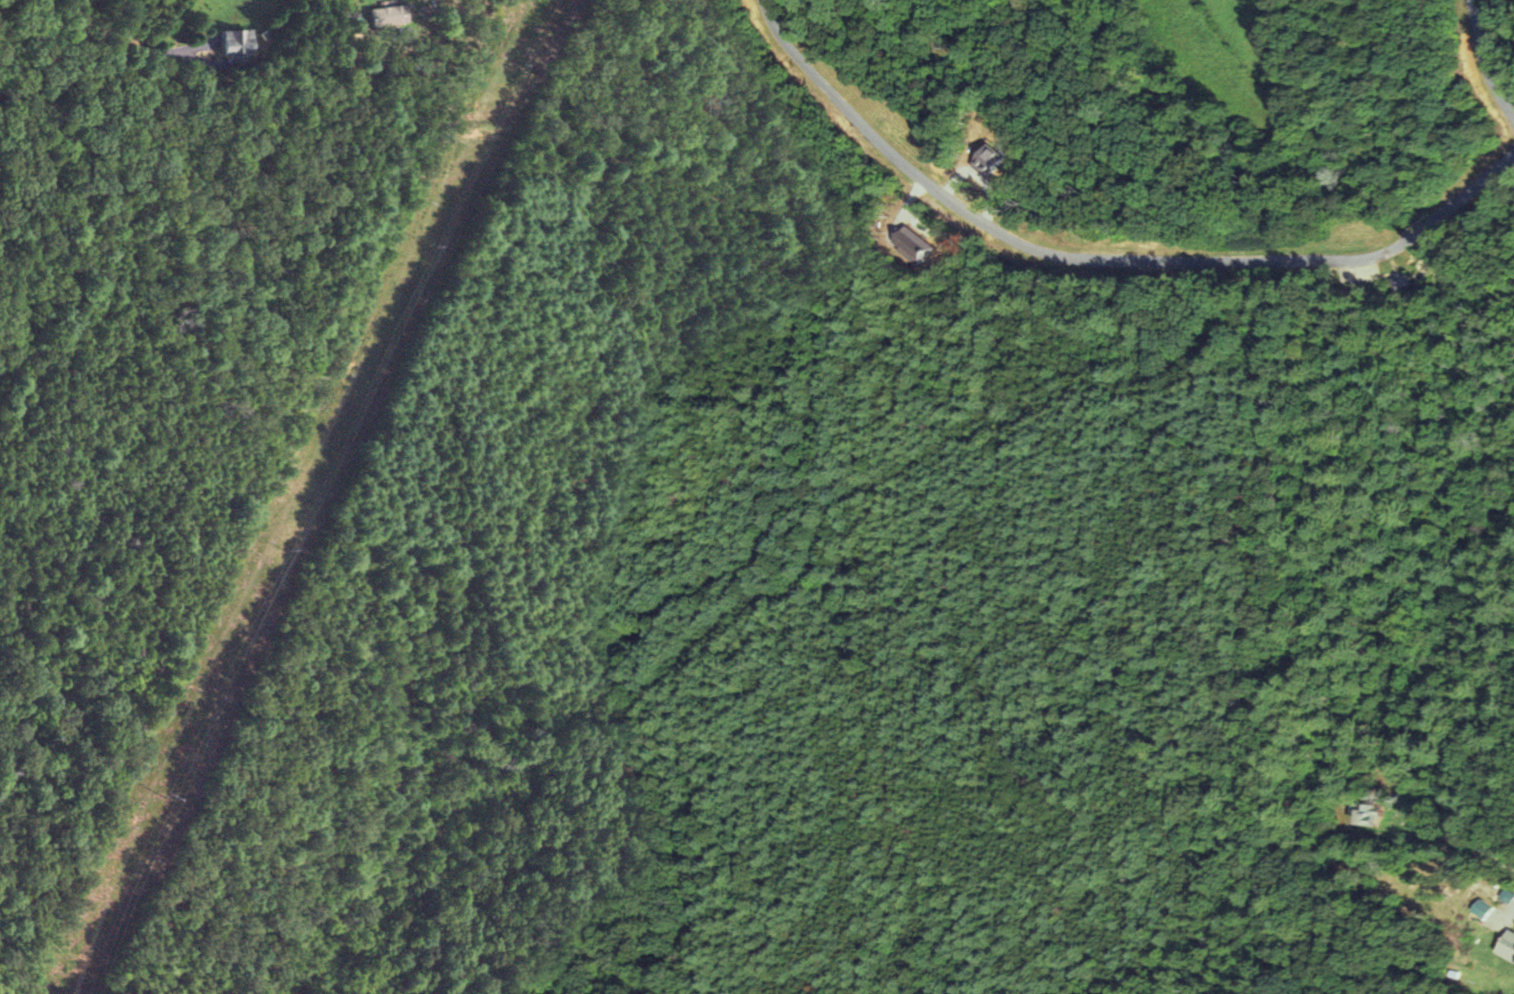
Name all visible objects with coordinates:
building: (235, 45)
road: (1488, 58)
road: (1103, 257)
building: (1365, 815)
road: (1513, 860)
building: (1506, 947)

